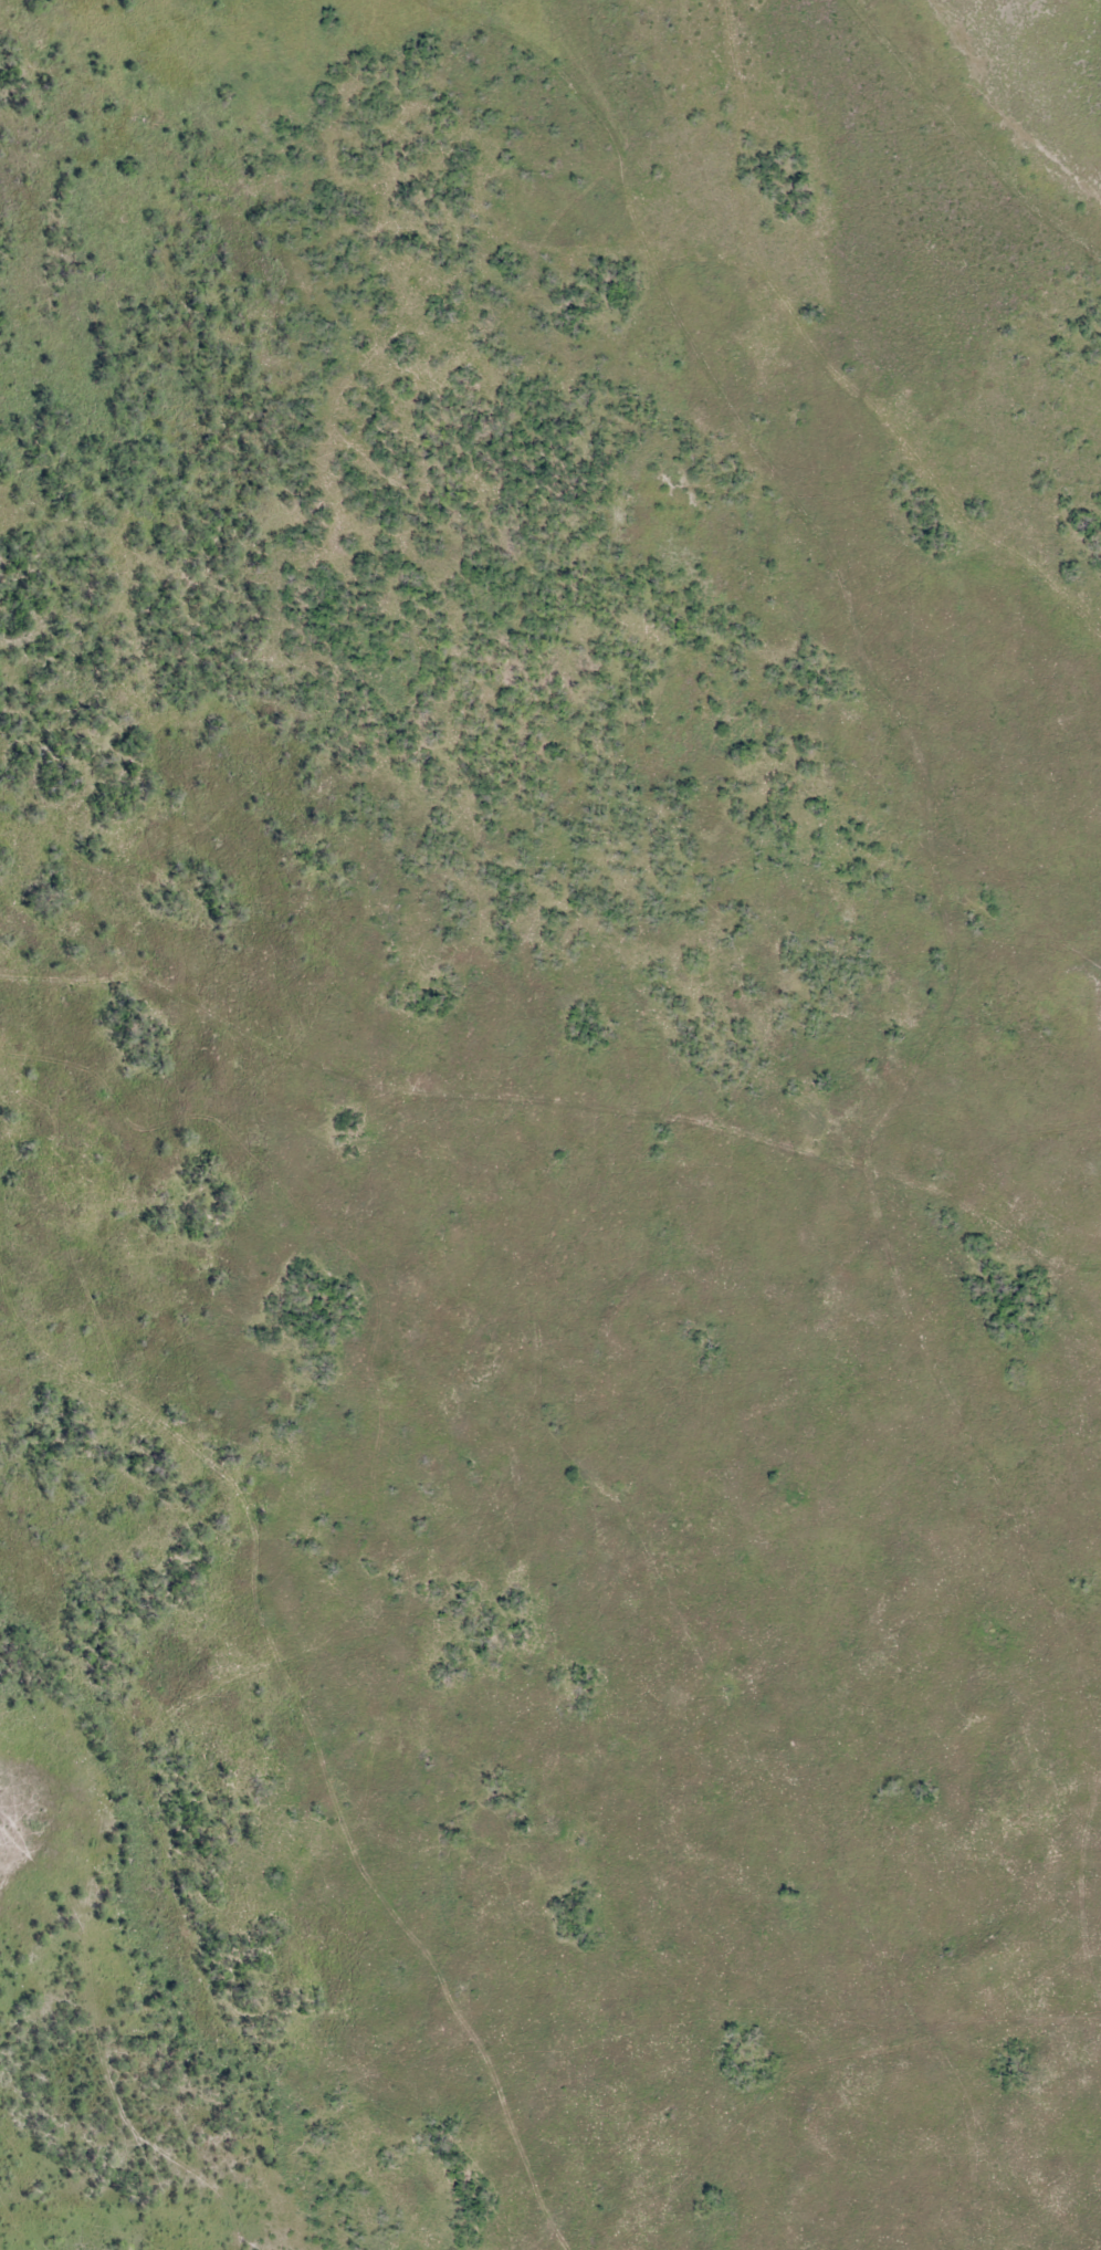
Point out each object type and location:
road: (843, 271)

